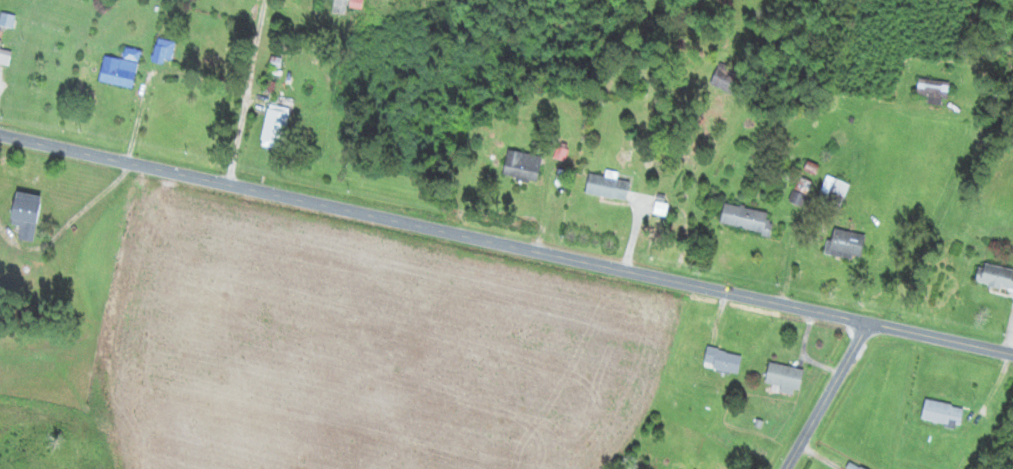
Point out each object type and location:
building: (6, 20)
building: (164, 51)
building: (5, 57)
building: (120, 69)
building: (726, 78)
building: (934, 89)
road: (238, 98)
building: (275, 125)
building: (523, 166)
building: (608, 187)
building: (833, 193)
building: (27, 215)
building: (747, 219)
road: (506, 245)
building: (846, 245)
building: (995, 277)
building: (723, 360)
building: (785, 377)
road: (827, 396)
building: (943, 413)
building: (853, 466)

